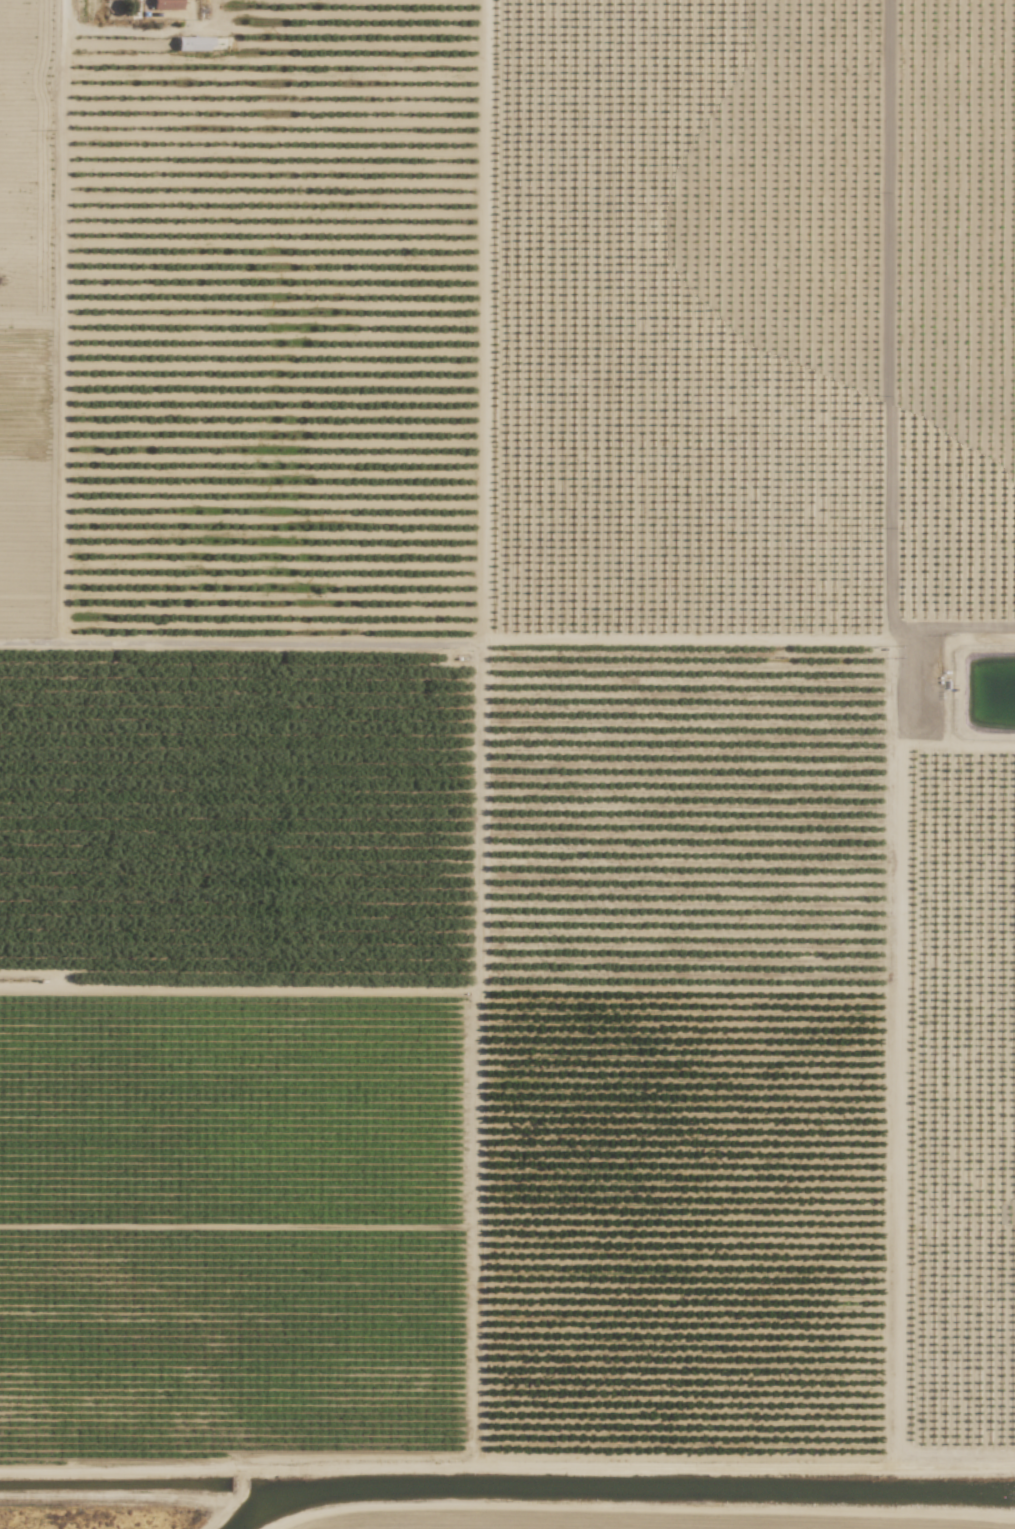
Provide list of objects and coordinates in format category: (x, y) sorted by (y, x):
building: (165, 4)
road: (137, 22)
building: (192, 43)
road: (60, 348)

